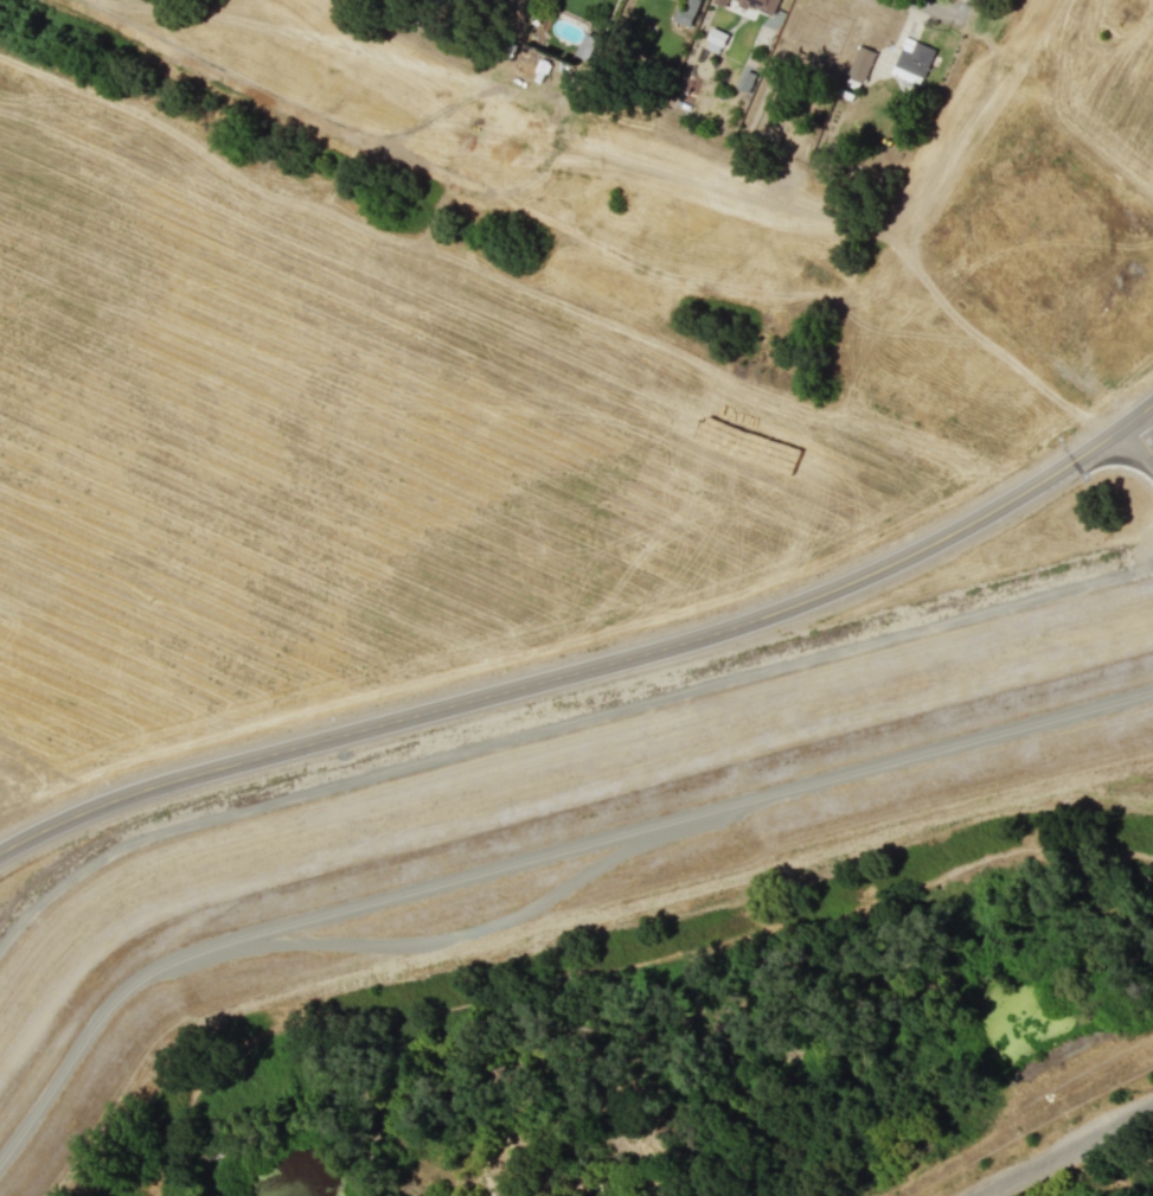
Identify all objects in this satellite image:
building: (754, 5)
road: (942, 8)
building: (686, 12)
building: (826, 30)
building: (716, 40)
building: (912, 60)
building: (860, 64)
road: (209, 76)
road: (427, 171)
road: (594, 239)
road: (1140, 440)
road: (594, 671)
road: (1063, 1150)

